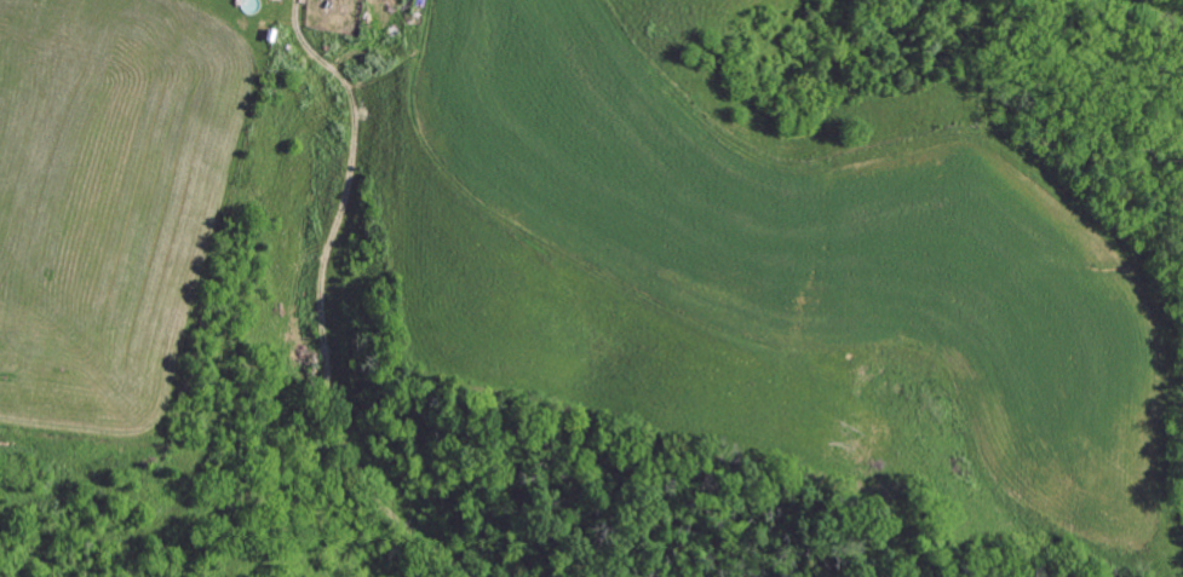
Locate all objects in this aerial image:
road: (327, 306)

